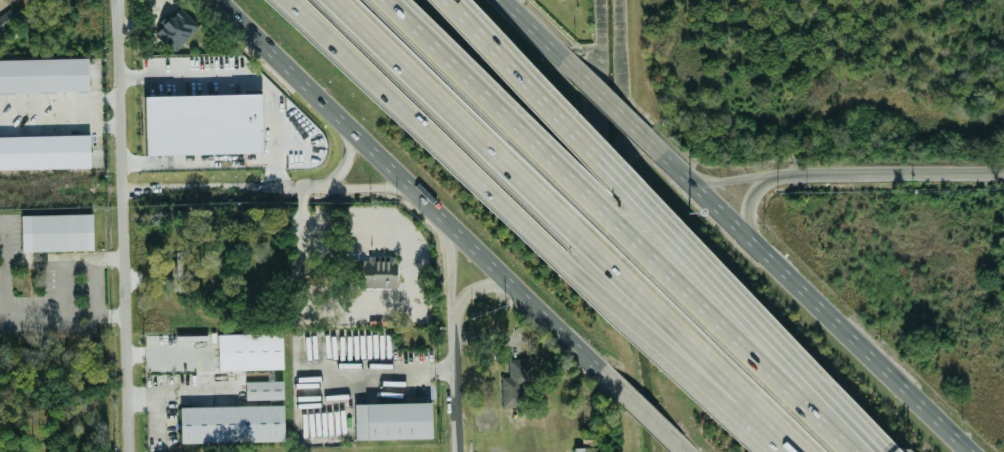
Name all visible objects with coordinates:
road: (509, 0)
building: (8, 17)
road: (531, 22)
building: (176, 27)
road: (246, 72)
building: (43, 74)
road: (529, 77)
road: (604, 91)
road: (60, 99)
building: (202, 123)
road: (426, 126)
road: (60, 128)
building: (44, 151)
road: (198, 159)
road: (346, 162)
road: (895, 171)
road: (737, 178)
road: (366, 185)
road: (223, 188)
road: (416, 193)
road: (750, 198)
road: (630, 225)
road: (123, 226)
road: (559, 226)
building: (55, 232)
road: (62, 258)
road: (1, 264)
building: (376, 270)
road: (452, 270)
road: (62, 286)
road: (96, 286)
road: (479, 287)
road: (813, 295)
road: (746, 303)
road: (63, 314)
building: (249, 350)
road: (668, 355)
road: (386, 370)
road: (456, 383)
building: (513, 383)
building: (262, 386)
road: (180, 392)
road: (650, 417)
road: (158, 419)
building: (391, 419)
building: (230, 422)
building: (585, 448)

